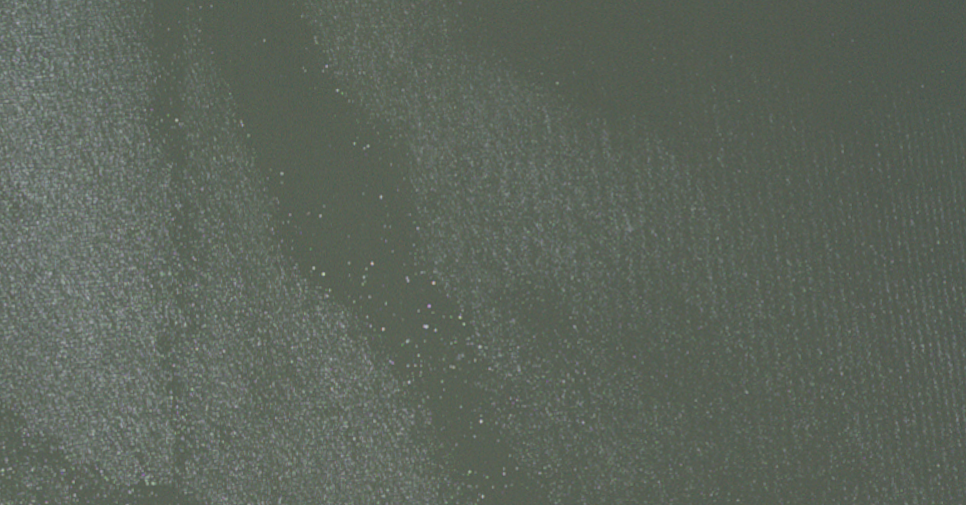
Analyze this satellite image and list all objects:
river: (737, 252)

